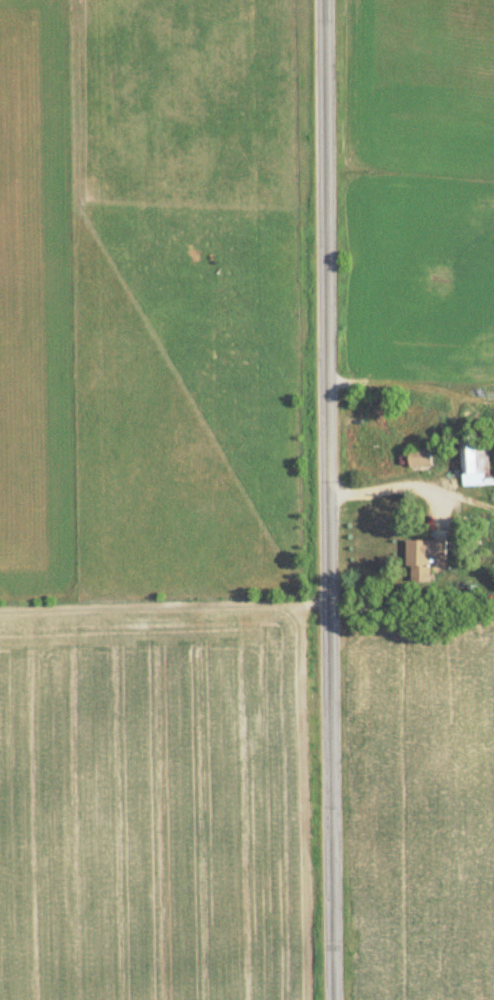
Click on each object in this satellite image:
building: (472, 453)
building: (417, 457)
road: (329, 500)
building: (421, 557)

